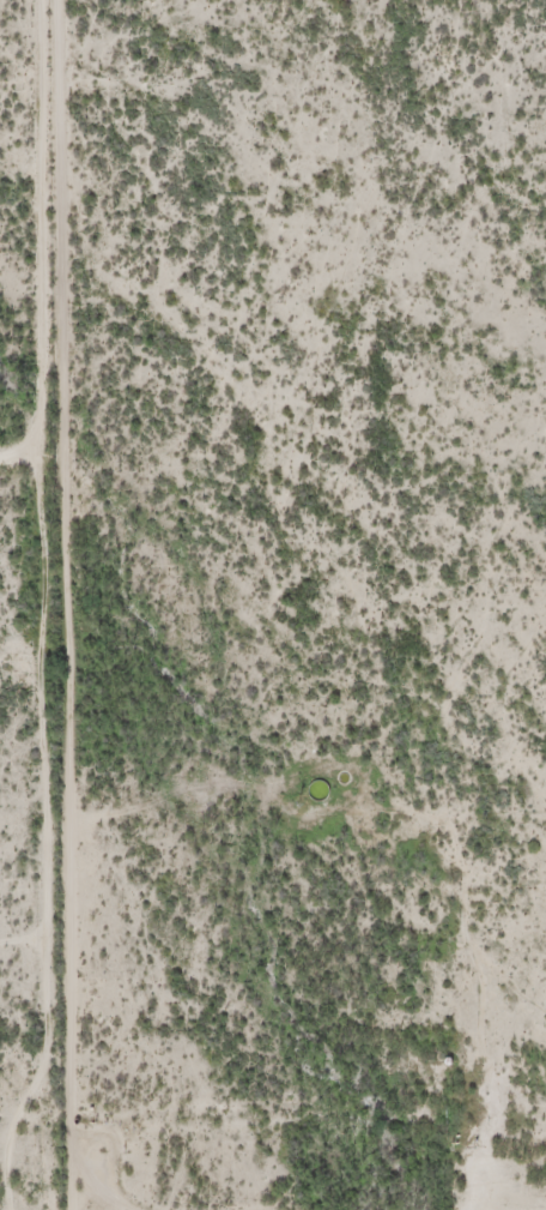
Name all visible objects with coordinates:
road: (48, 812)

